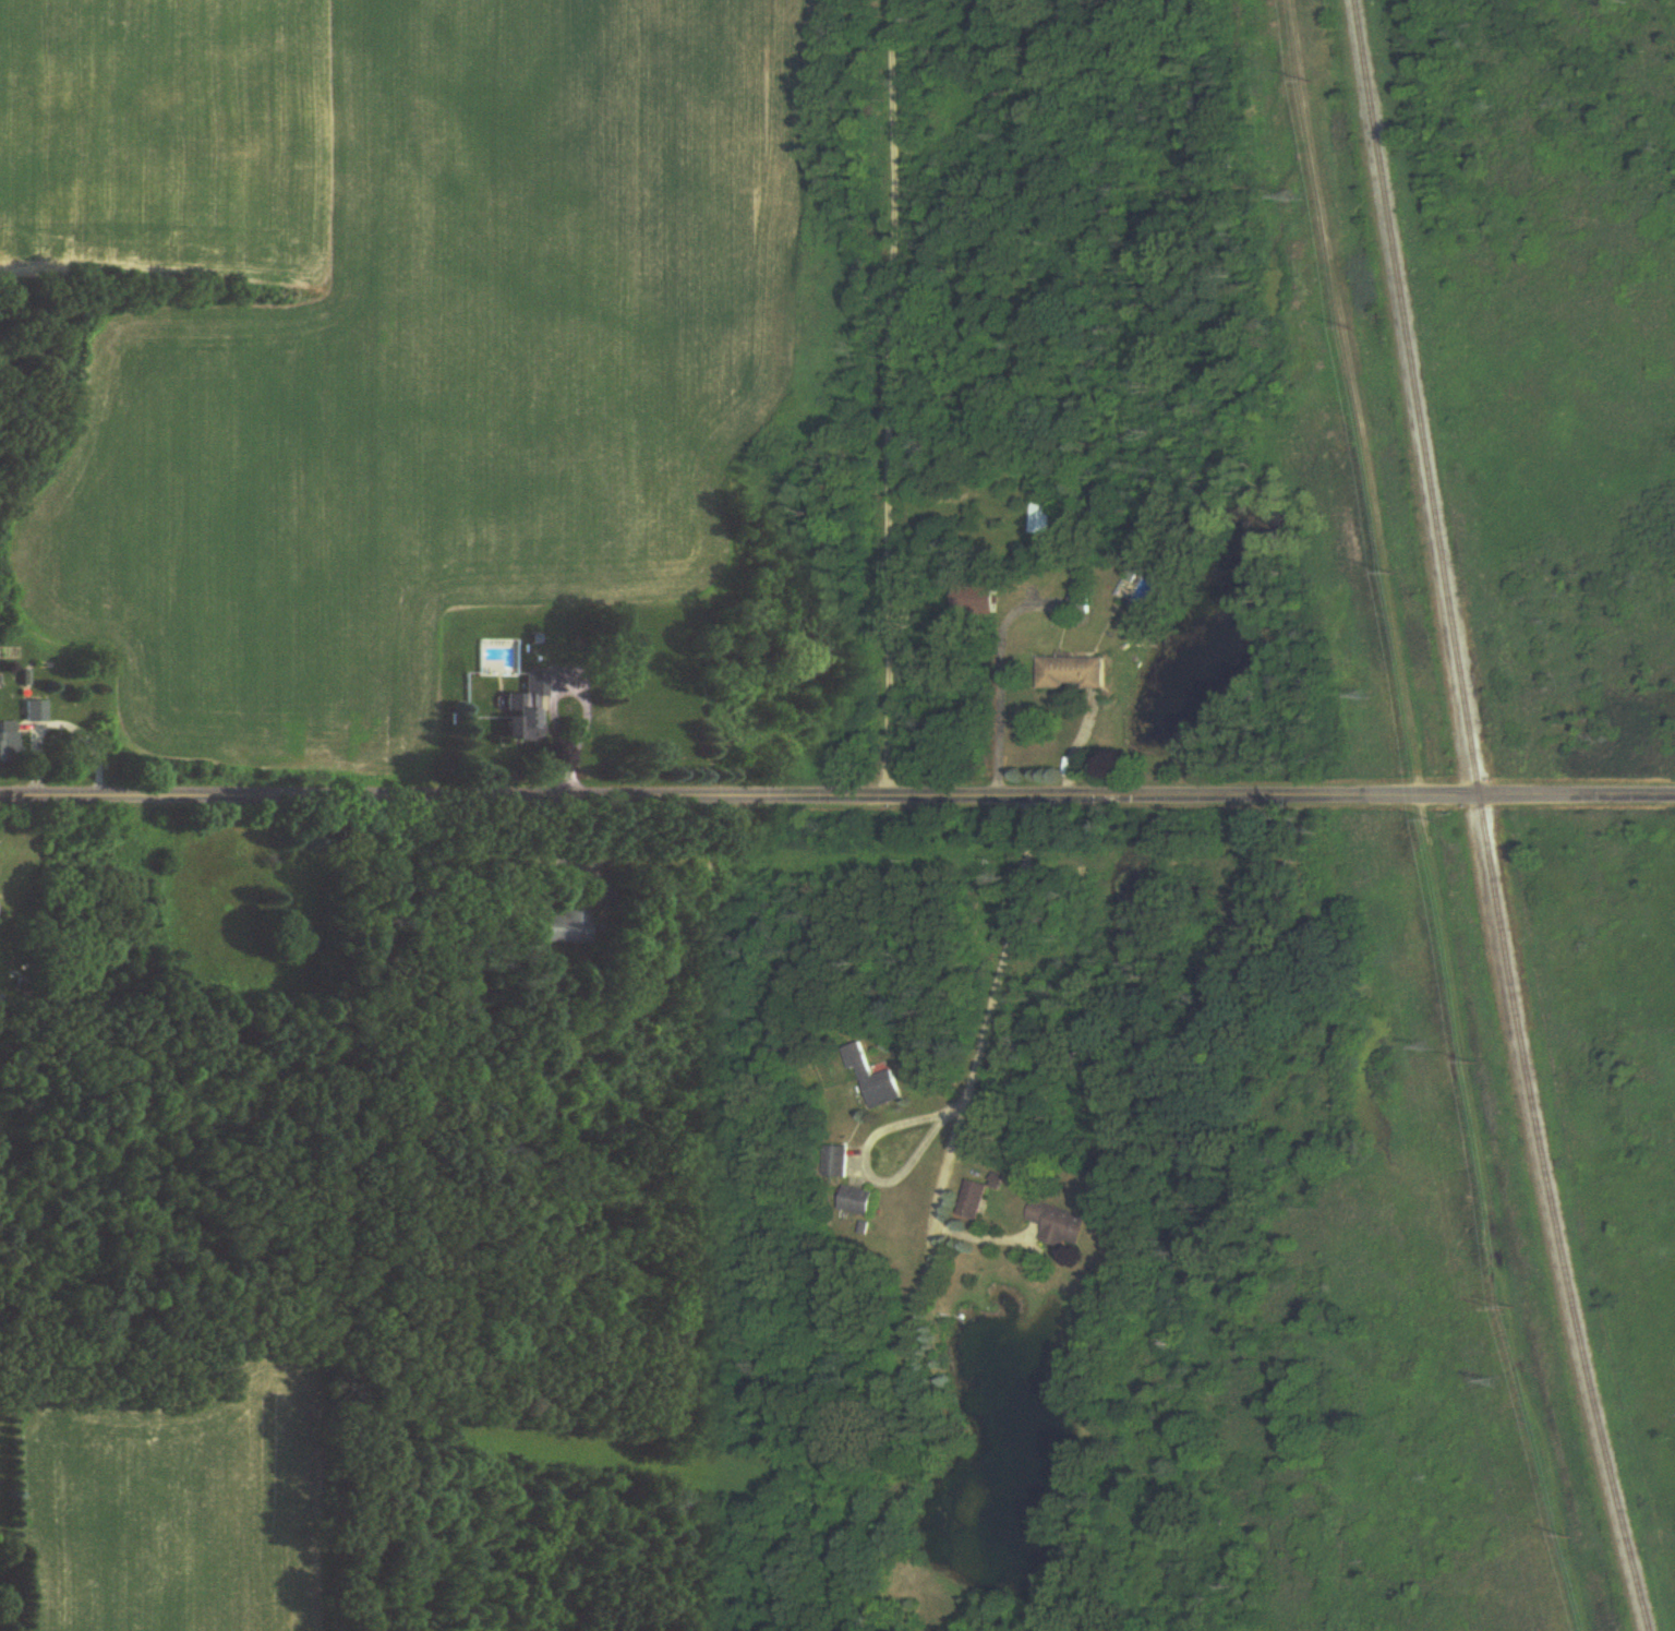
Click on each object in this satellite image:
power tower: (1300, 200)
road: (889, 396)
building: (1043, 513)
building: (1133, 584)
building: (1081, 605)
building: (1074, 673)
road: (580, 687)
power tower: (1370, 697)
building: (35, 711)
road: (53, 711)
building: (528, 711)
building: (8, 743)
road: (837, 793)
railway: (1484, 818)
building: (303, 879)
building: (566, 928)
power tower: (1436, 1046)
building: (876, 1082)
road: (866, 1162)
building: (836, 1163)
building: (976, 1201)
building: (858, 1202)
road: (941, 1210)
building: (1060, 1225)
power tower: (1499, 1387)

